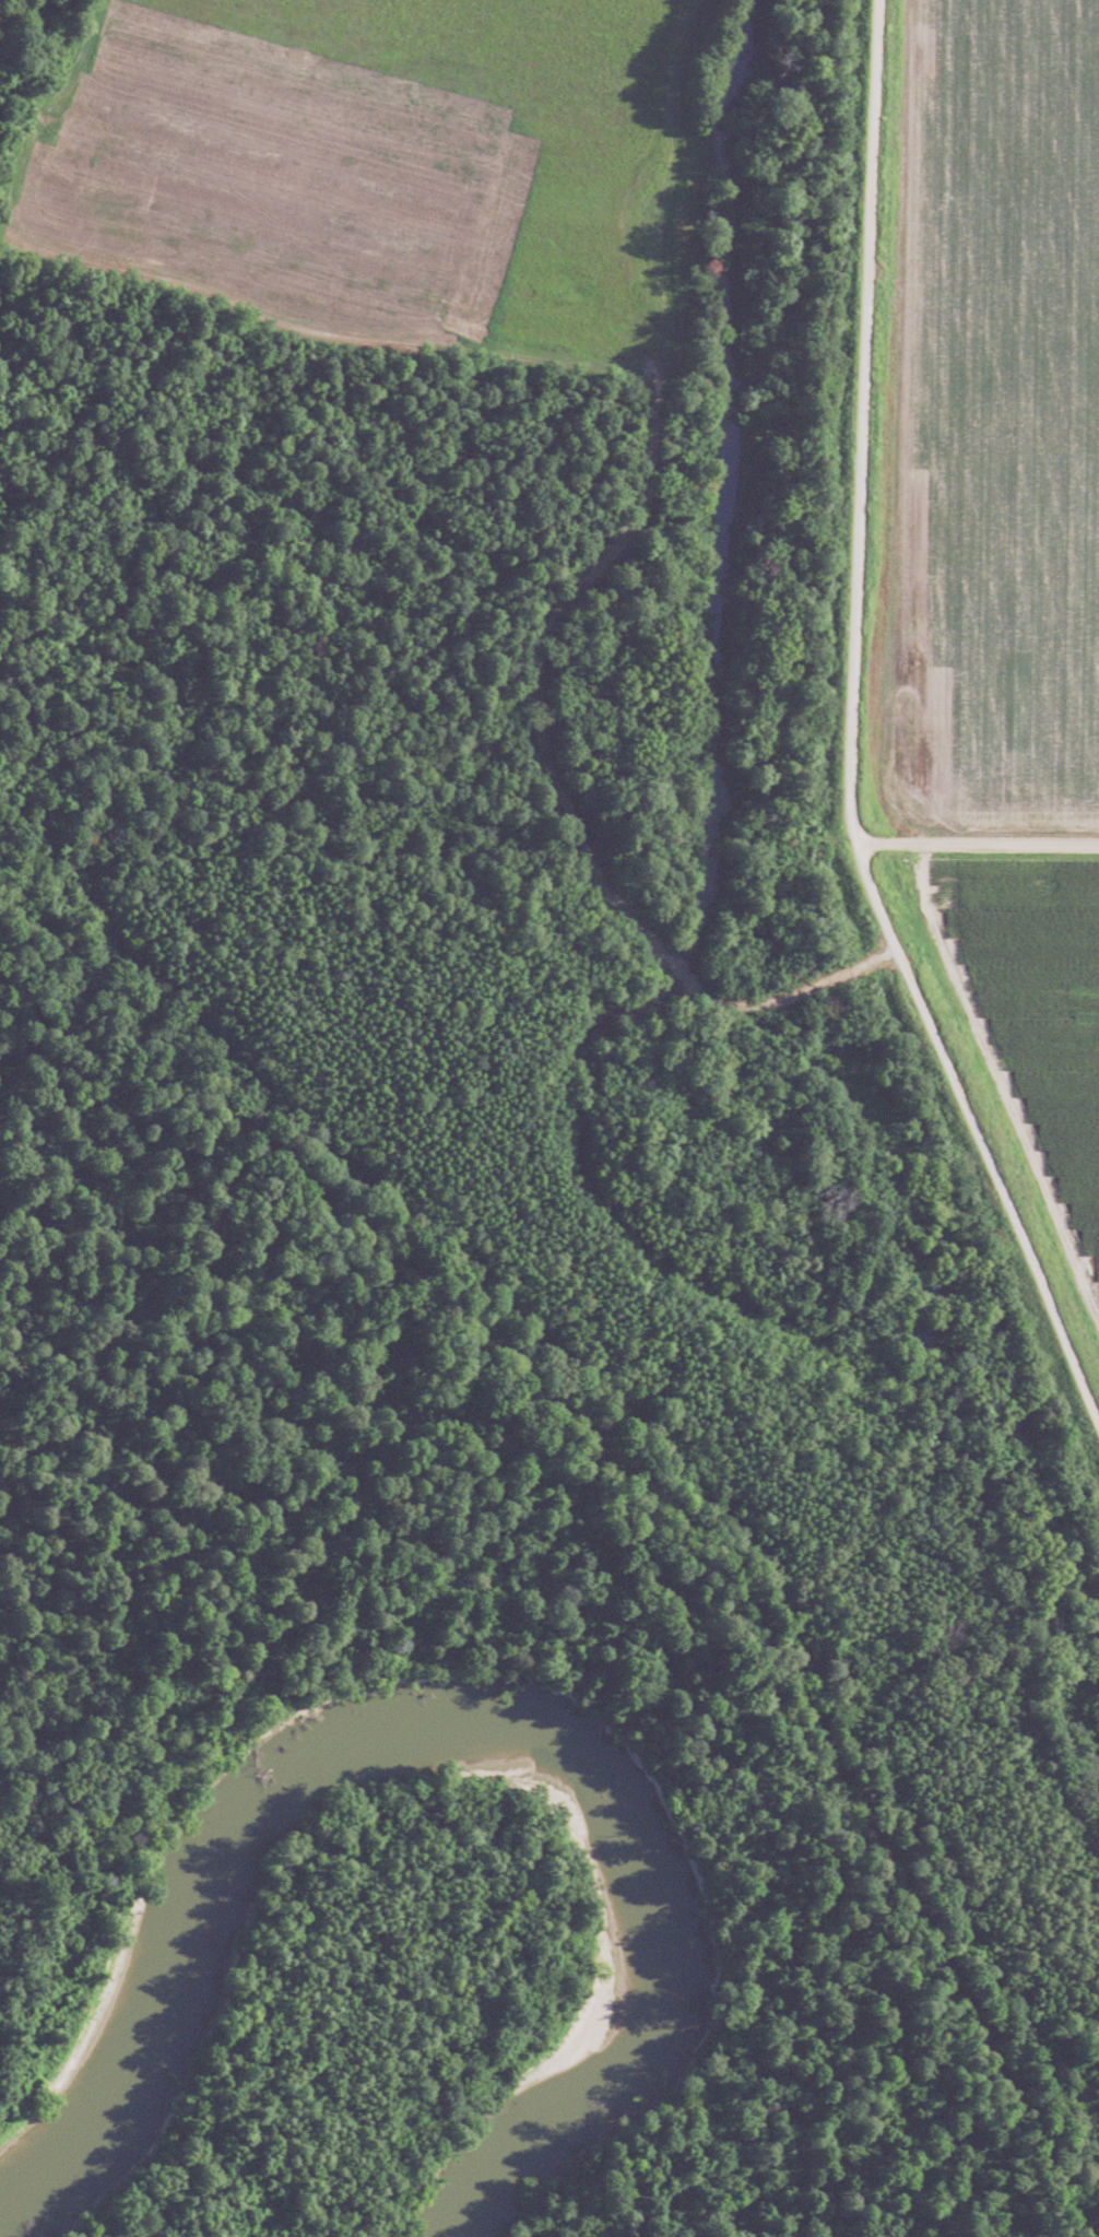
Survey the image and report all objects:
road: (851, 735)
road: (556, 797)
road: (978, 846)
river: (450, 1730)

